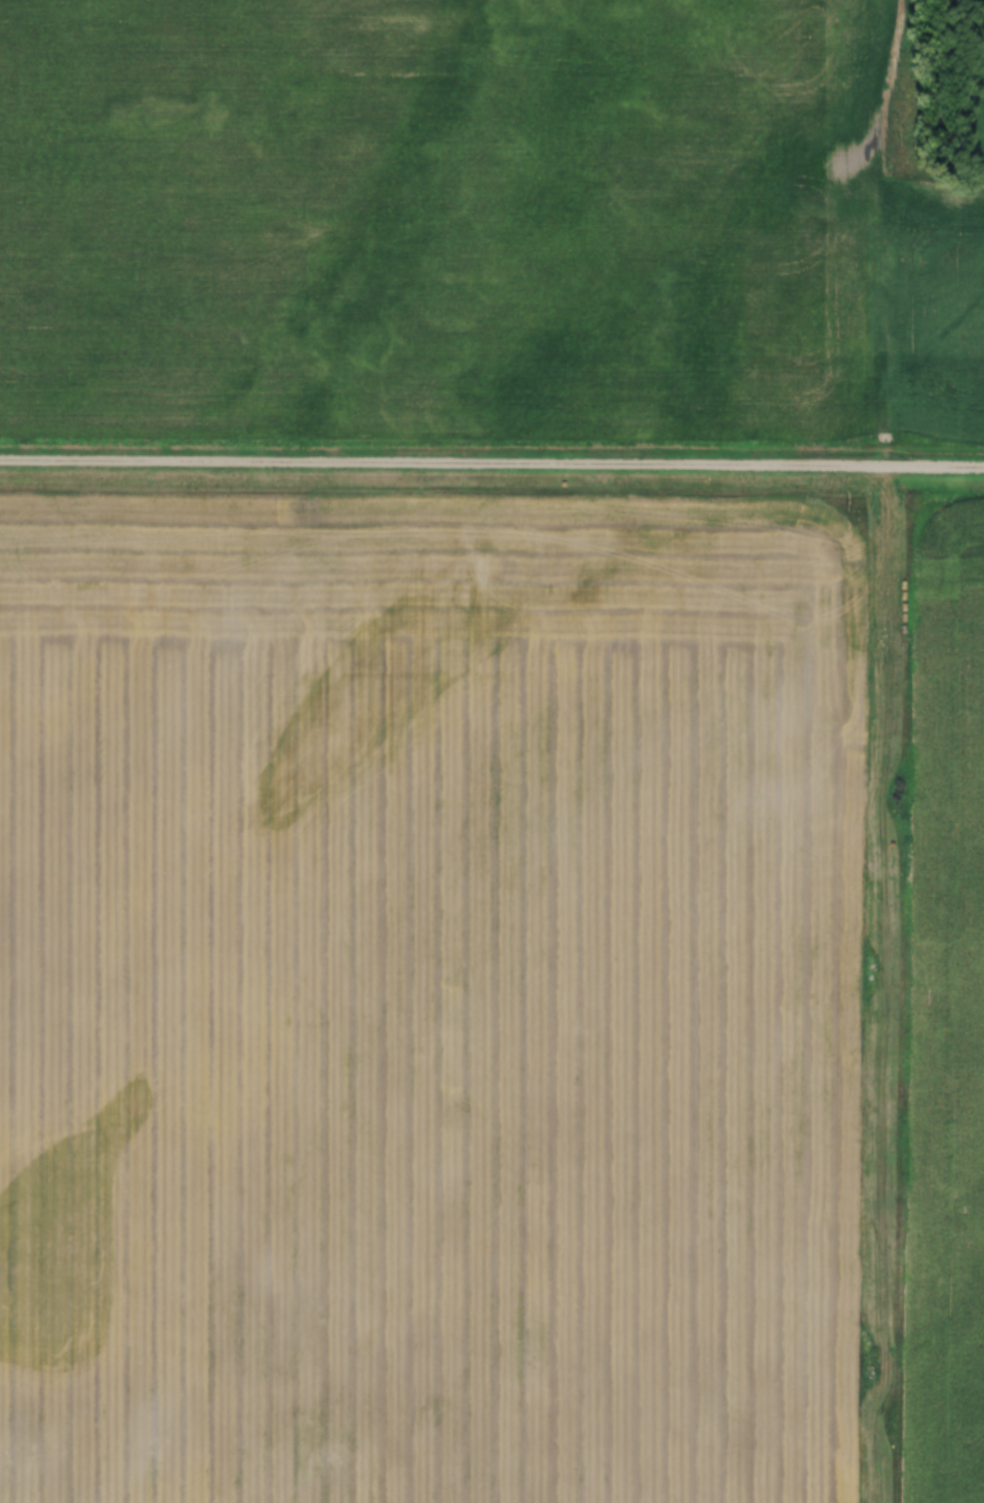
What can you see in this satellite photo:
road: (880, 232)
road: (492, 466)
road: (882, 986)

